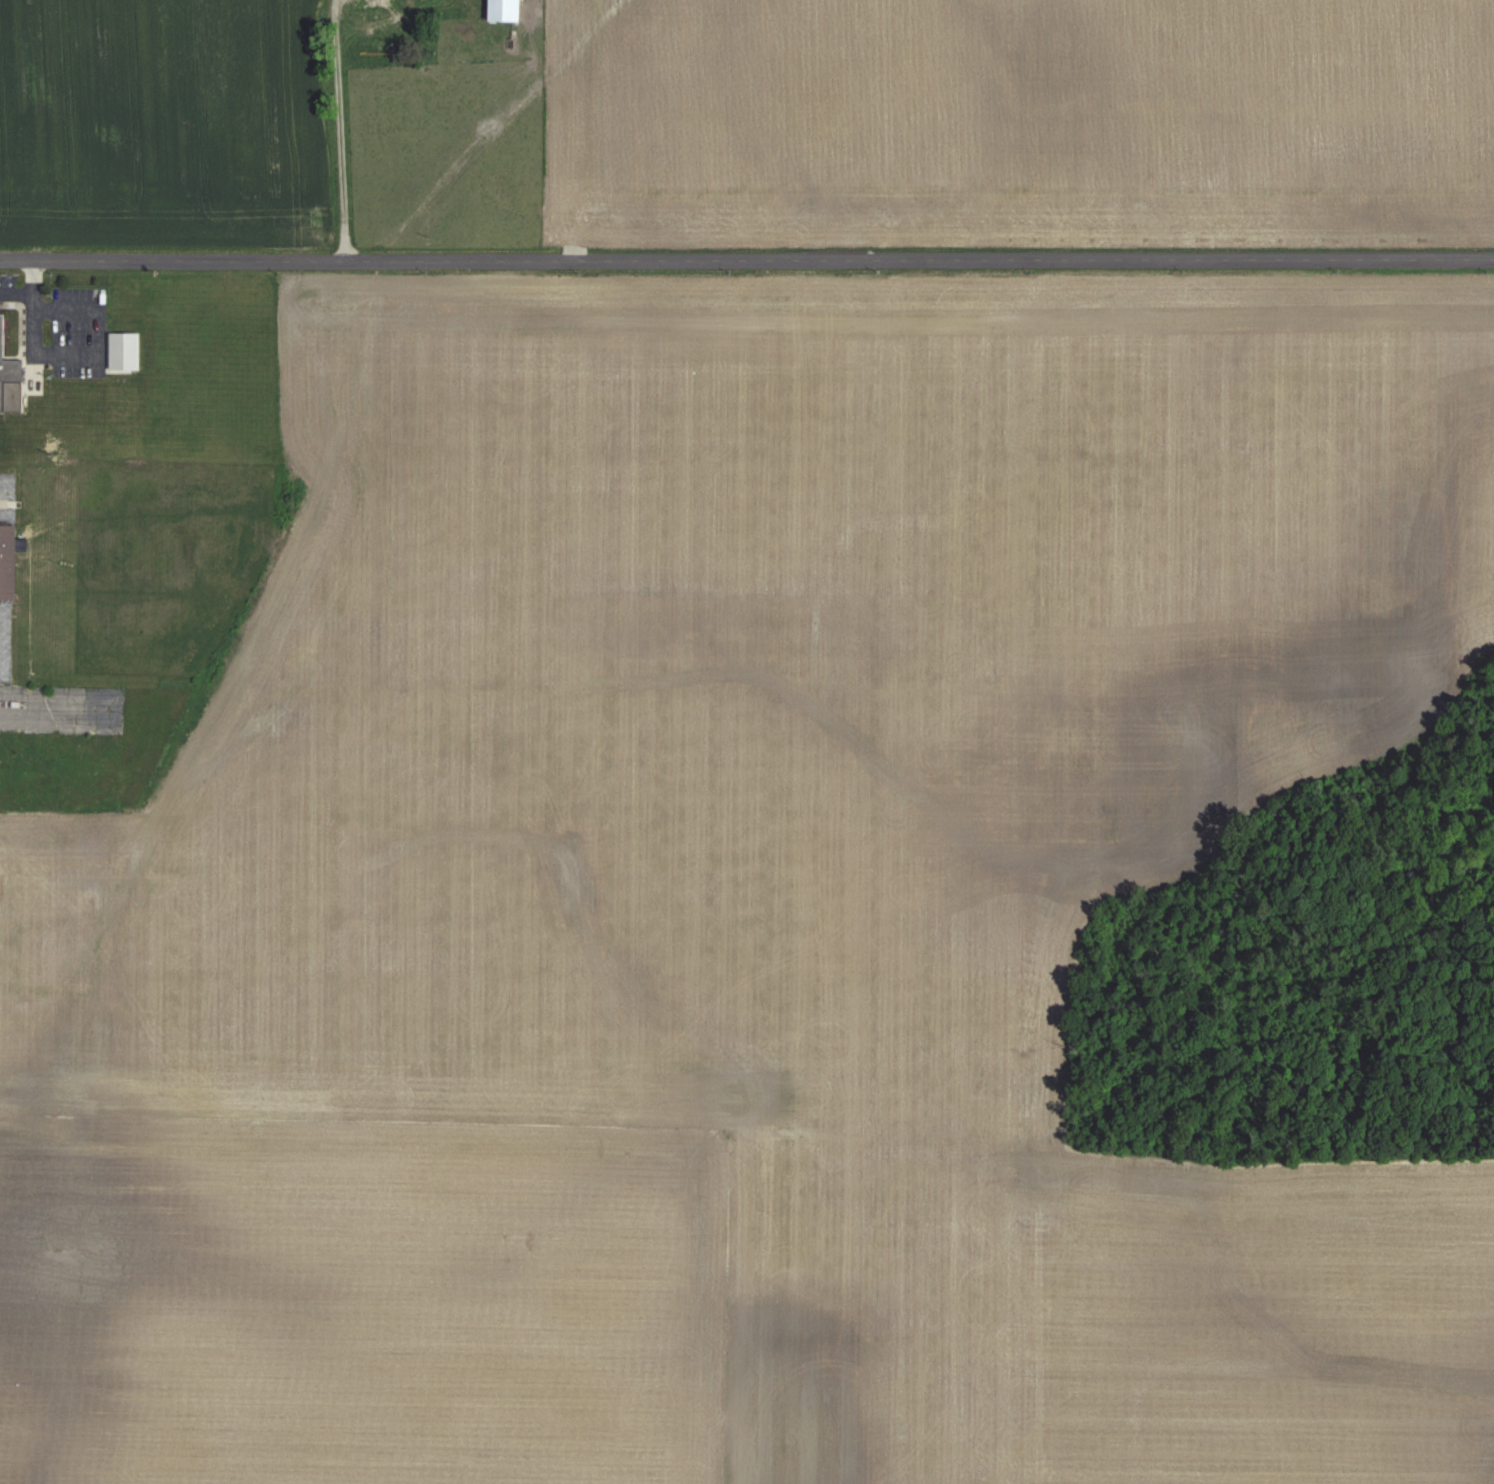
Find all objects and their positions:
building: (508, 10)
building: (392, 13)
road: (334, 132)
road: (746, 264)
building: (127, 350)
building: (10, 375)
building: (9, 561)

